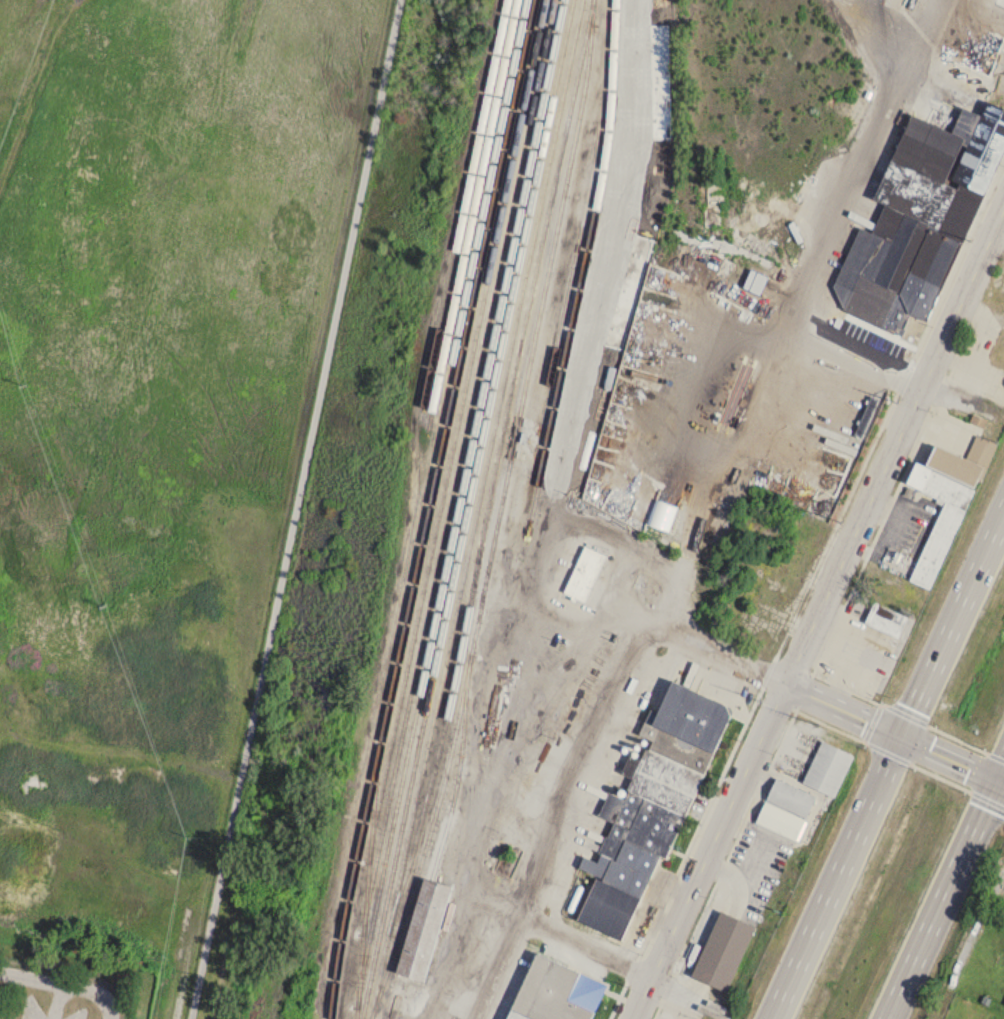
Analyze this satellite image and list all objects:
railway: (671, 83)
railway: (466, 207)
railway: (474, 219)
railway: (581, 220)
building: (917, 231)
railway: (585, 261)
building: (754, 283)
road: (853, 355)
railway: (461, 365)
railway: (460, 456)
railway: (500, 459)
railway: (465, 488)
railway: (481, 502)
building: (945, 503)
railway: (422, 507)
railway: (440, 507)
road: (706, 508)
road: (292, 509)
railway: (469, 509)
railway: (501, 513)
building: (585, 571)
road: (819, 613)
building: (886, 620)
road: (953, 626)
road: (781, 683)
road: (949, 758)
building: (828, 767)
road: (1000, 771)
building: (663, 777)
road: (1000, 781)
building: (790, 796)
building: (780, 819)
road: (838, 877)
road: (941, 899)
building: (606, 909)
building: (422, 929)
road: (589, 946)
building: (723, 950)
road: (63, 984)
building: (554, 992)
road: (58, 1001)
parking lot: (37, 1007)

